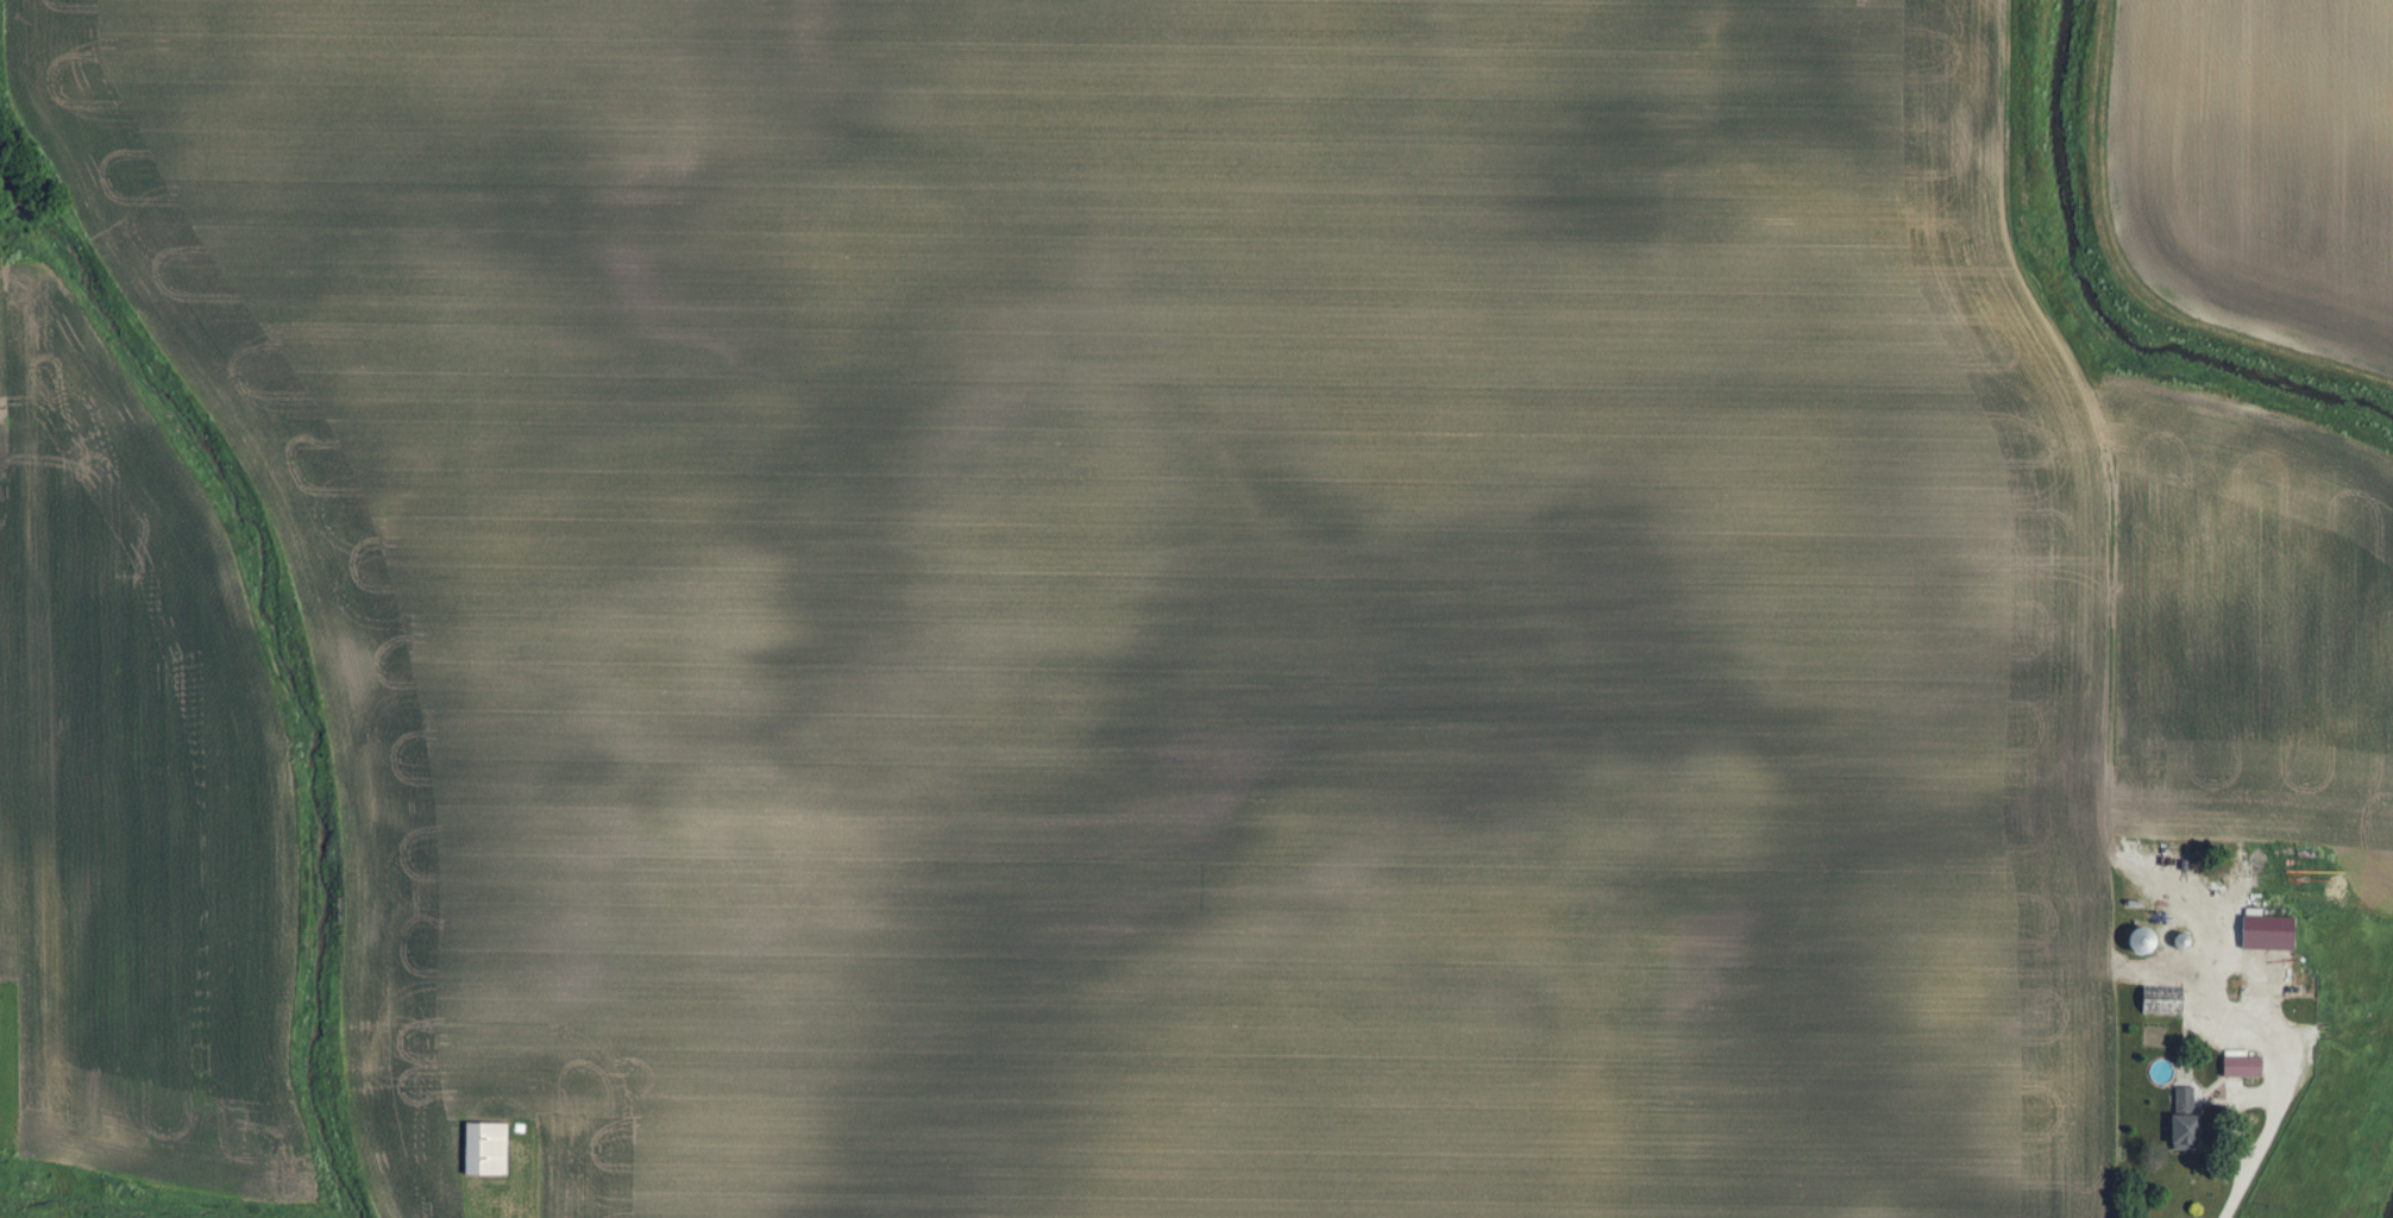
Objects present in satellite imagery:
building: (2267, 934)
building: (2182, 1123)
road: (2260, 1139)

